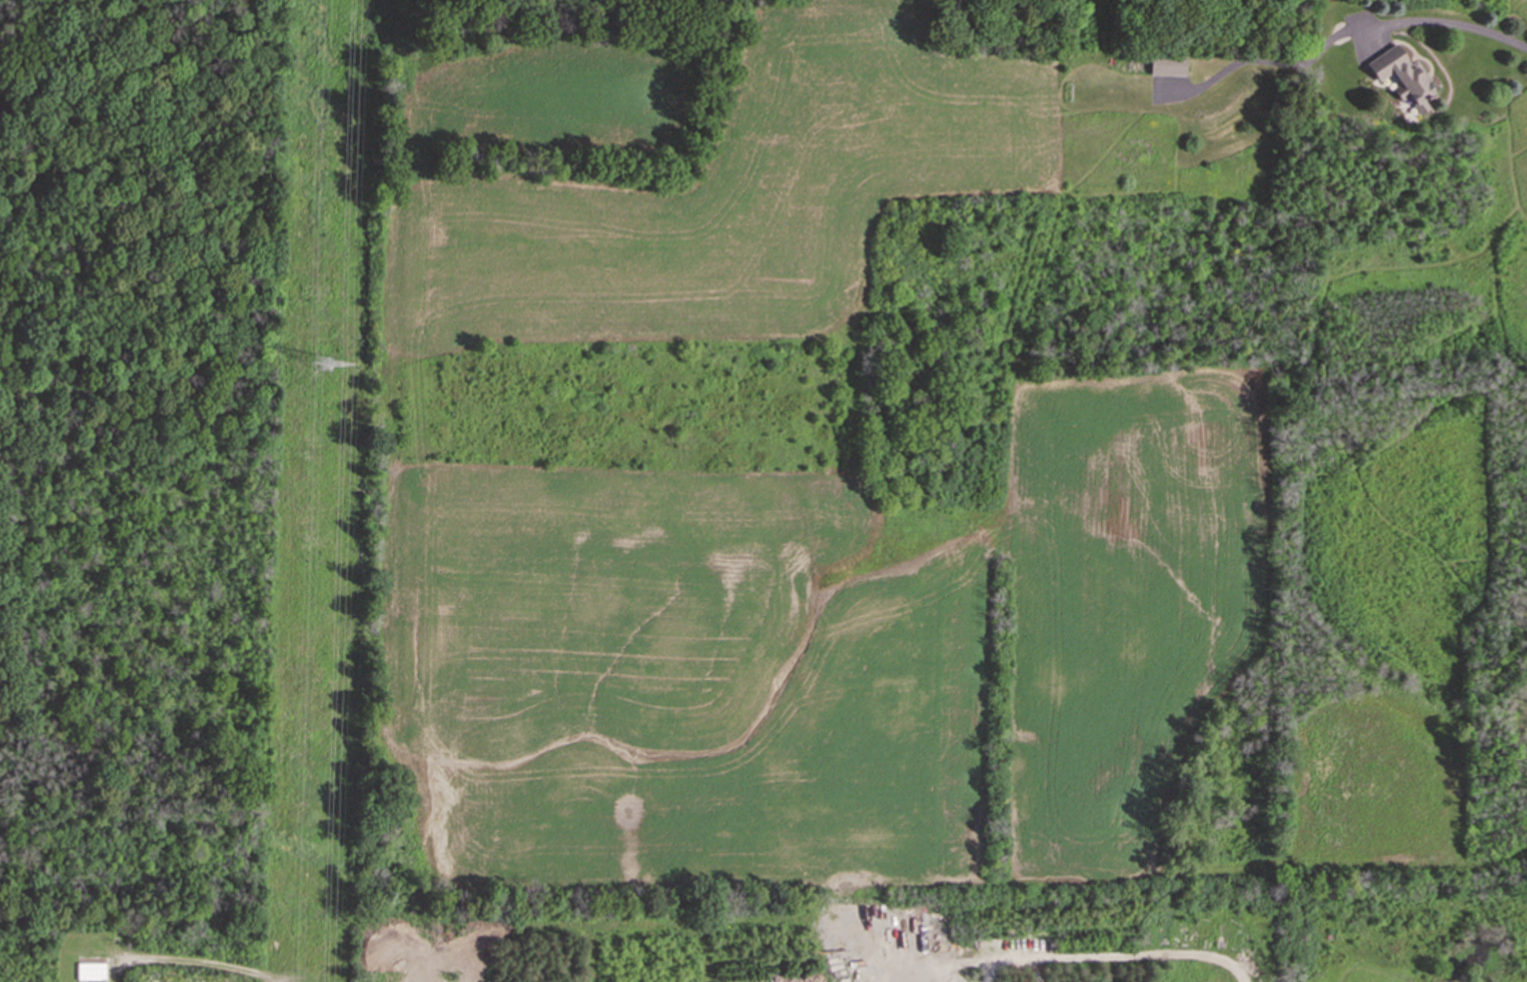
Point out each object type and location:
road: (1459, 23)
building: (1166, 66)
building: (1400, 76)
crop: (706, 179)
power tower: (326, 364)
crop: (827, 651)
road: (1112, 954)
building: (89, 967)

